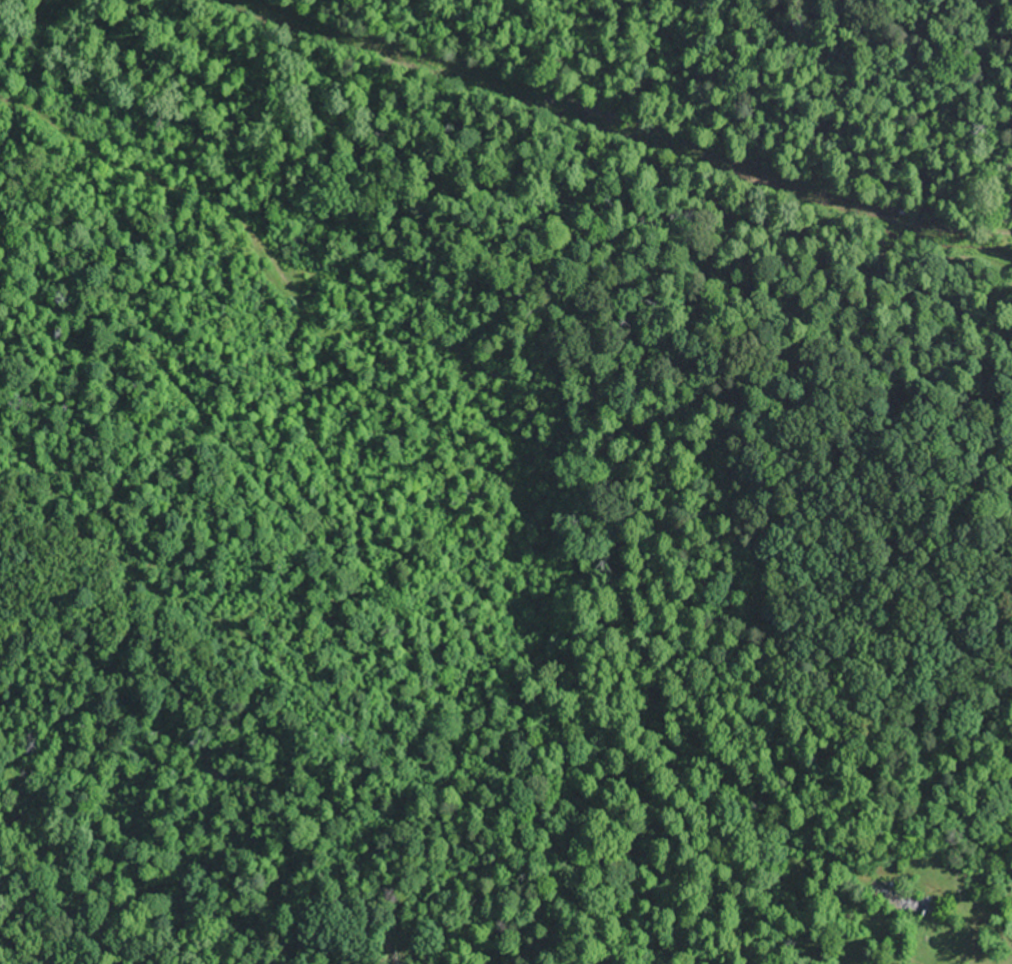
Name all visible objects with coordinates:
road: (813, 958)
road: (899, 958)

